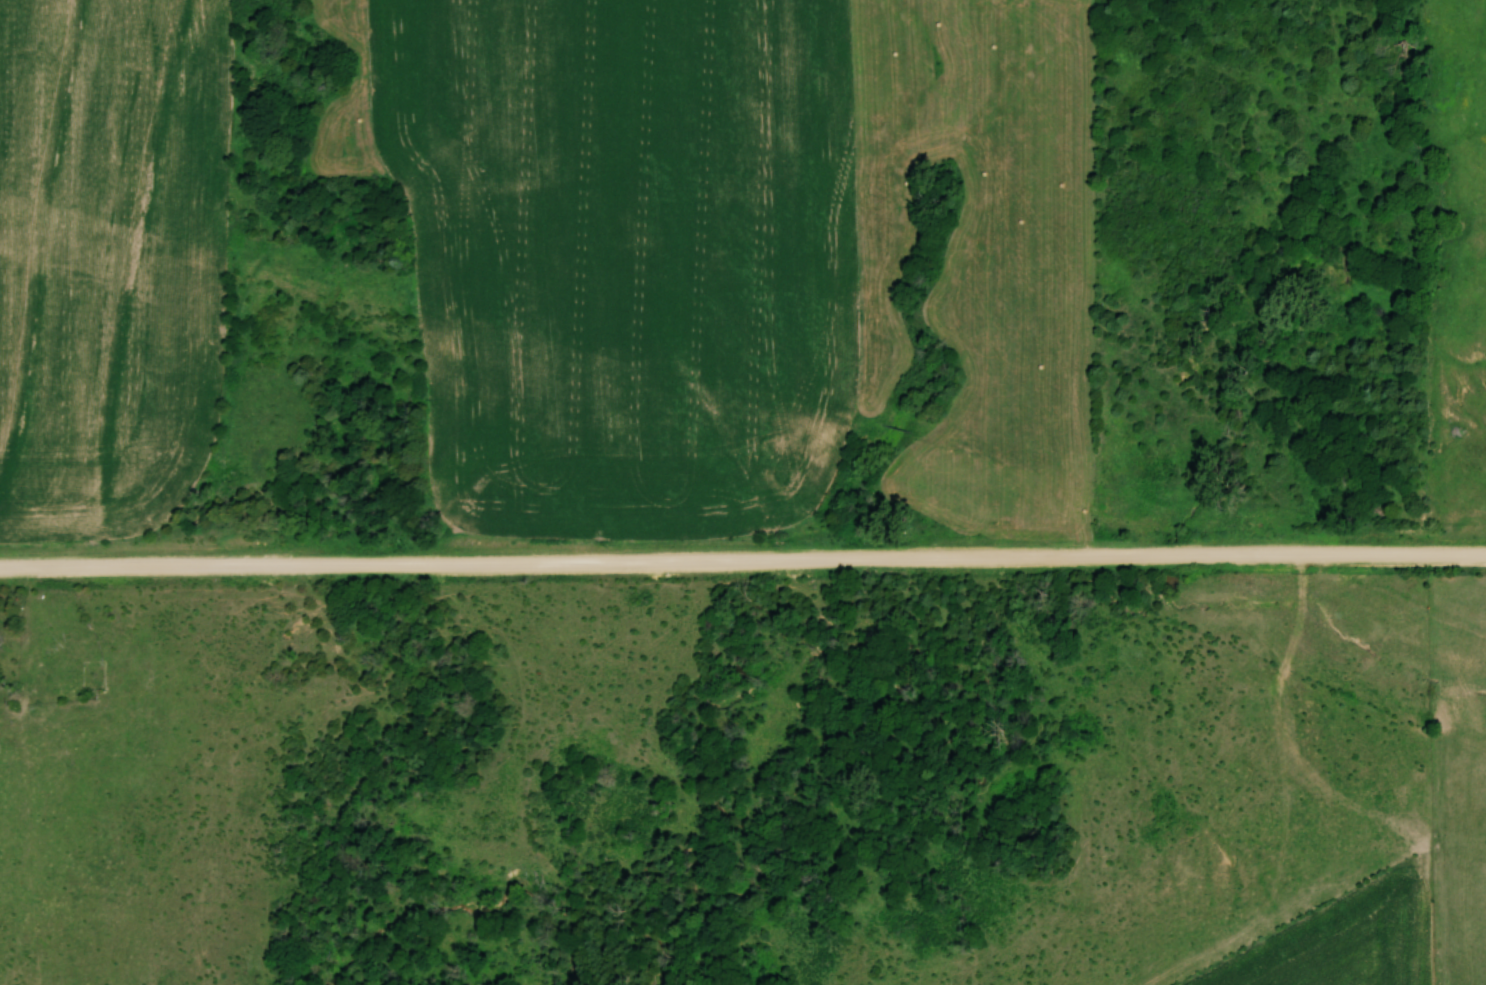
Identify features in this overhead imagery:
road: (743, 556)
road: (1284, 725)
crop: (1345, 942)

